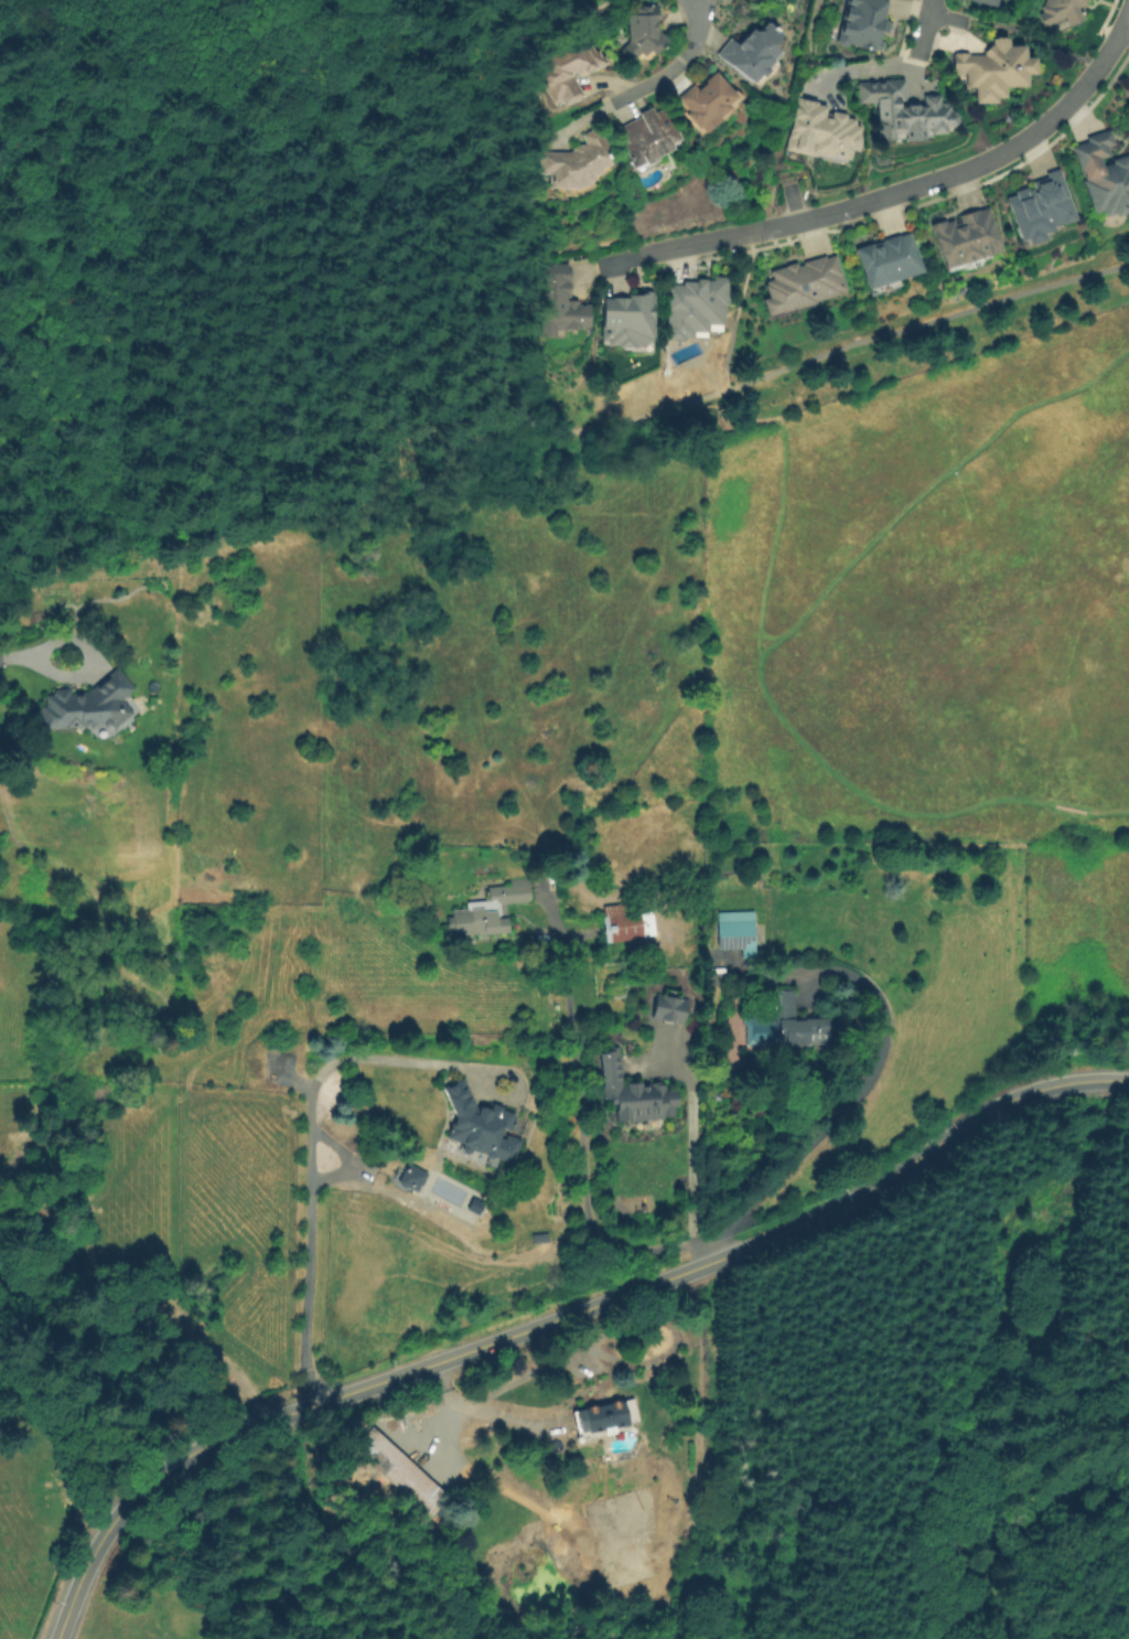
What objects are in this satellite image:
building: (534, 0)
building: (544, 1)
building: (989, 3)
building: (1064, 14)
road: (944, 17)
road: (964, 19)
road: (1127, 21)
road: (1121, 24)
building: (863, 25)
road: (921, 28)
building: (645, 29)
road: (696, 30)
road: (12, 41)
road: (1043, 42)
building: (751, 52)
building: (572, 62)
road: (859, 68)
building: (996, 76)
building: (707, 99)
road: (612, 100)
building: (904, 116)
road: (154, 130)
building: (647, 136)
building: (822, 137)
building: (578, 162)
building: (1104, 182)
road: (881, 195)
building: (1040, 215)
road: (35, 229)
building: (966, 245)
park: (259, 253)
building: (889, 268)
building: (799, 280)
building: (561, 298)
building: (697, 300)
road: (736, 300)
building: (630, 315)
road: (839, 346)
road: (174, 374)
road: (724, 379)
road: (268, 444)
road: (34, 492)
road: (766, 643)
road: (32, 660)
building: (88, 706)
building: (710, 899)
building: (490, 912)
building: (626, 923)
building: (736, 932)
building: (619, 988)
building: (670, 1009)
building: (783, 1025)
building: (279, 1062)
building: (636, 1092)
building: (716, 1096)
road: (851, 1102)
building: (480, 1124)
road: (581, 1131)
road: (309, 1151)
road: (689, 1172)
building: (412, 1178)
road: (556, 1318)
road: (537, 1367)
road: (498, 1416)
building: (604, 1416)
road: (441, 1426)
building: (399, 1471)

